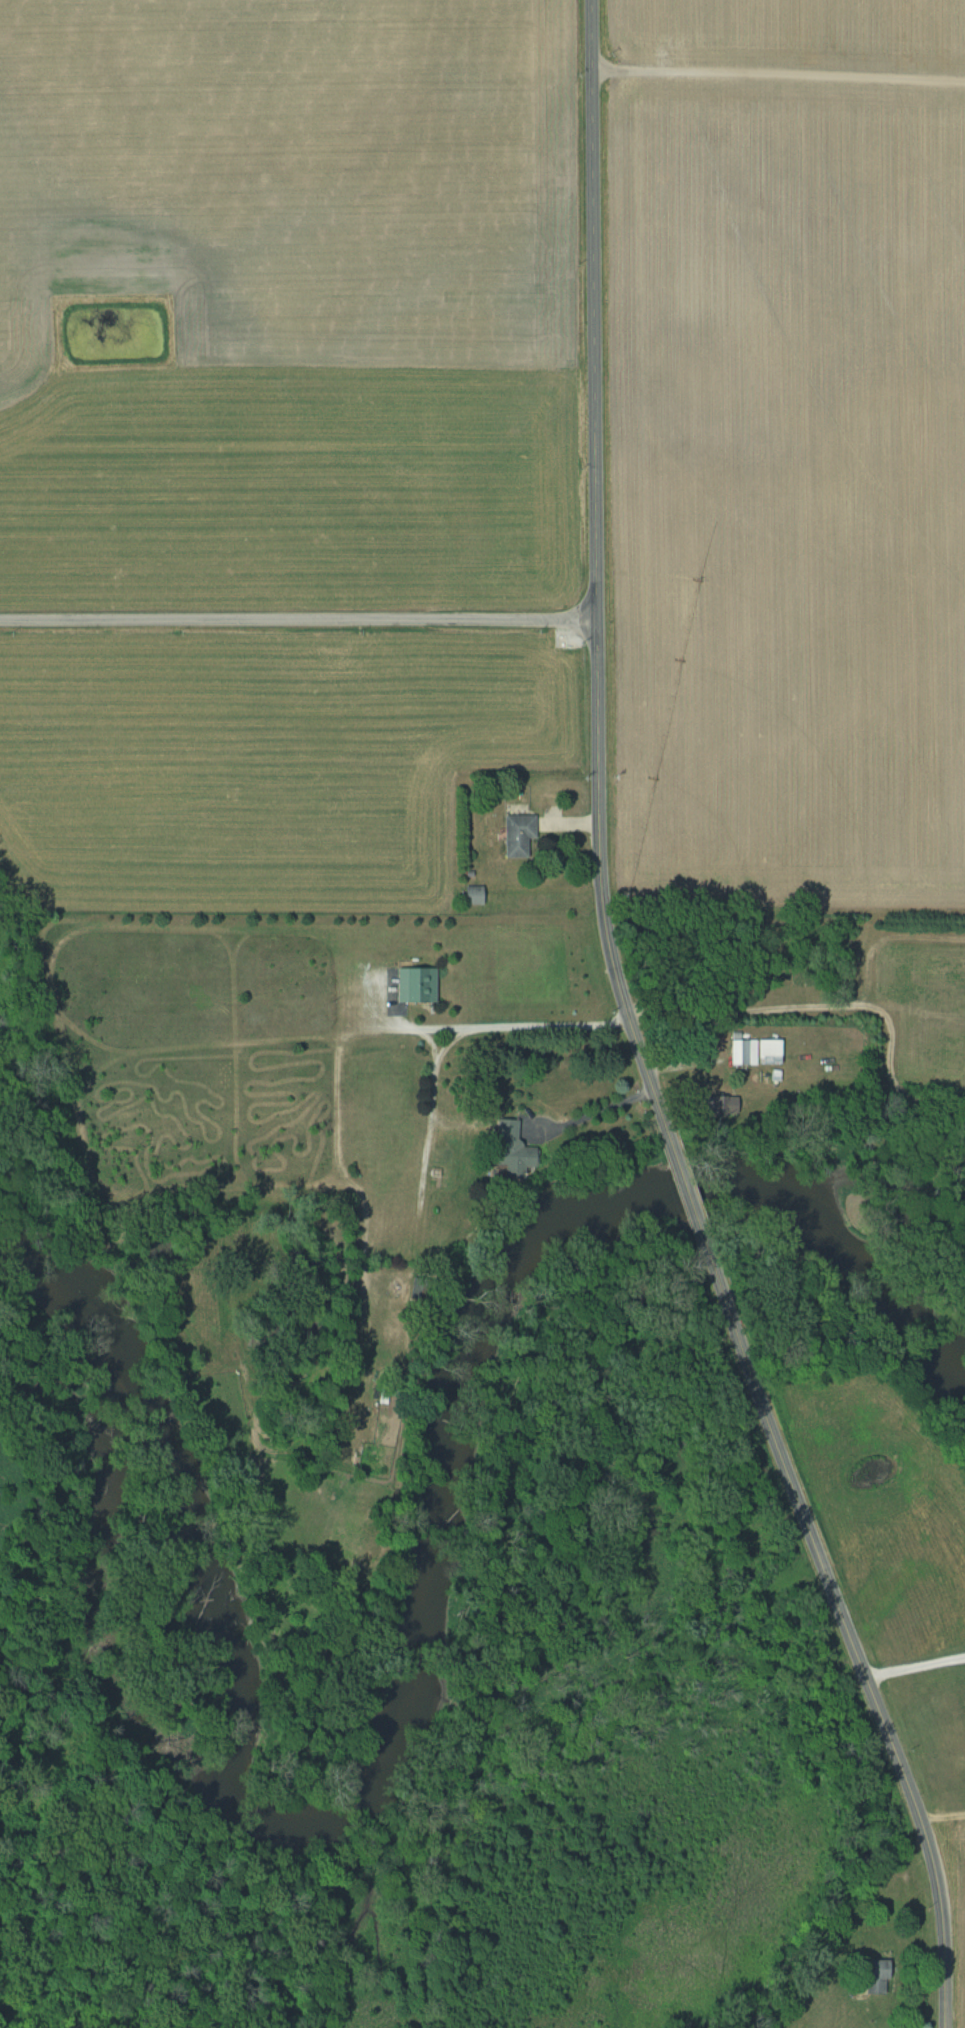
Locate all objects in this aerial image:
road: (779, 72)
road: (595, 577)
road: (297, 619)
building: (514, 833)
building: (470, 893)
building: (414, 983)
road: (798, 1014)
road: (501, 1024)
building: (753, 1051)
building: (718, 1104)
building: (506, 1150)
road: (686, 1192)
road: (847, 1628)
river: (425, 1659)
road: (915, 1665)
building: (872, 1976)

